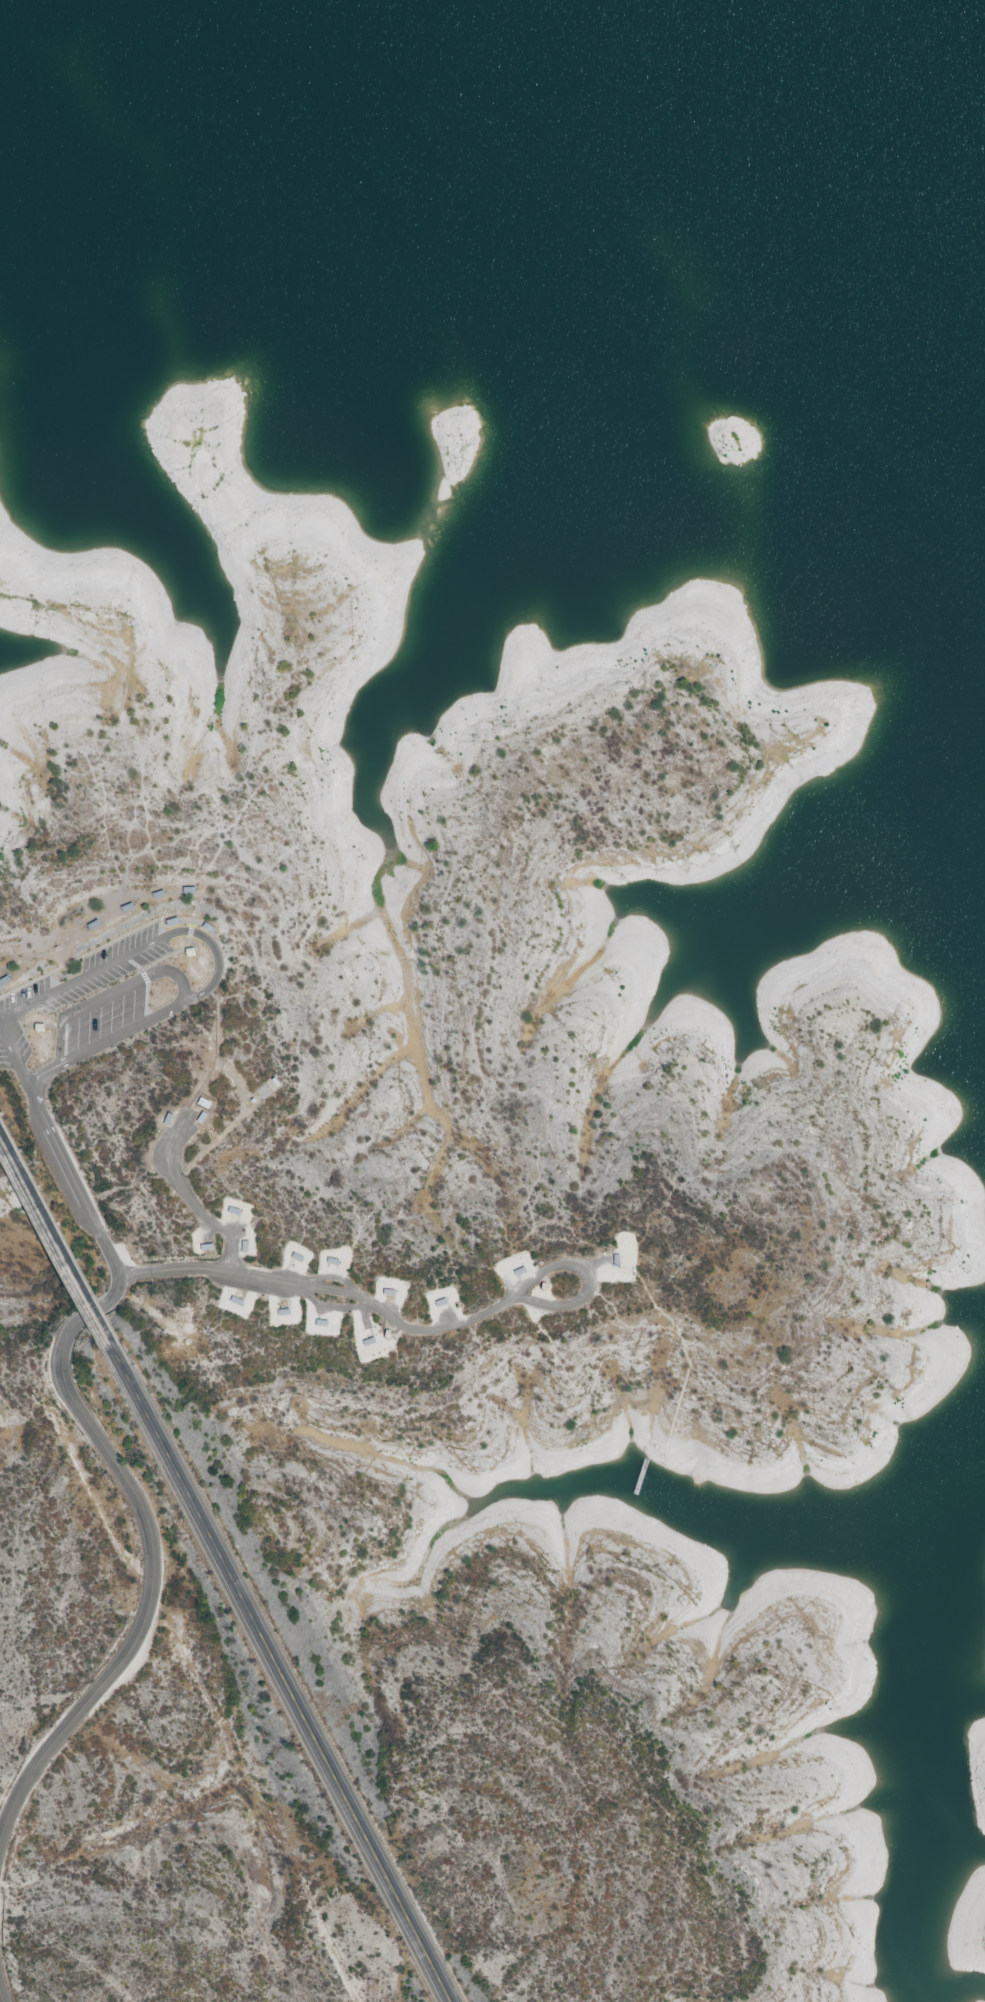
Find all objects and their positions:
road: (112, 993)
road: (64, 1063)
park: (468, 1125)
road: (74, 1179)
road: (187, 1192)
road: (56, 1231)
road: (405, 1324)
road: (152, 1556)
road: (277, 1676)
road: (2, 1996)

